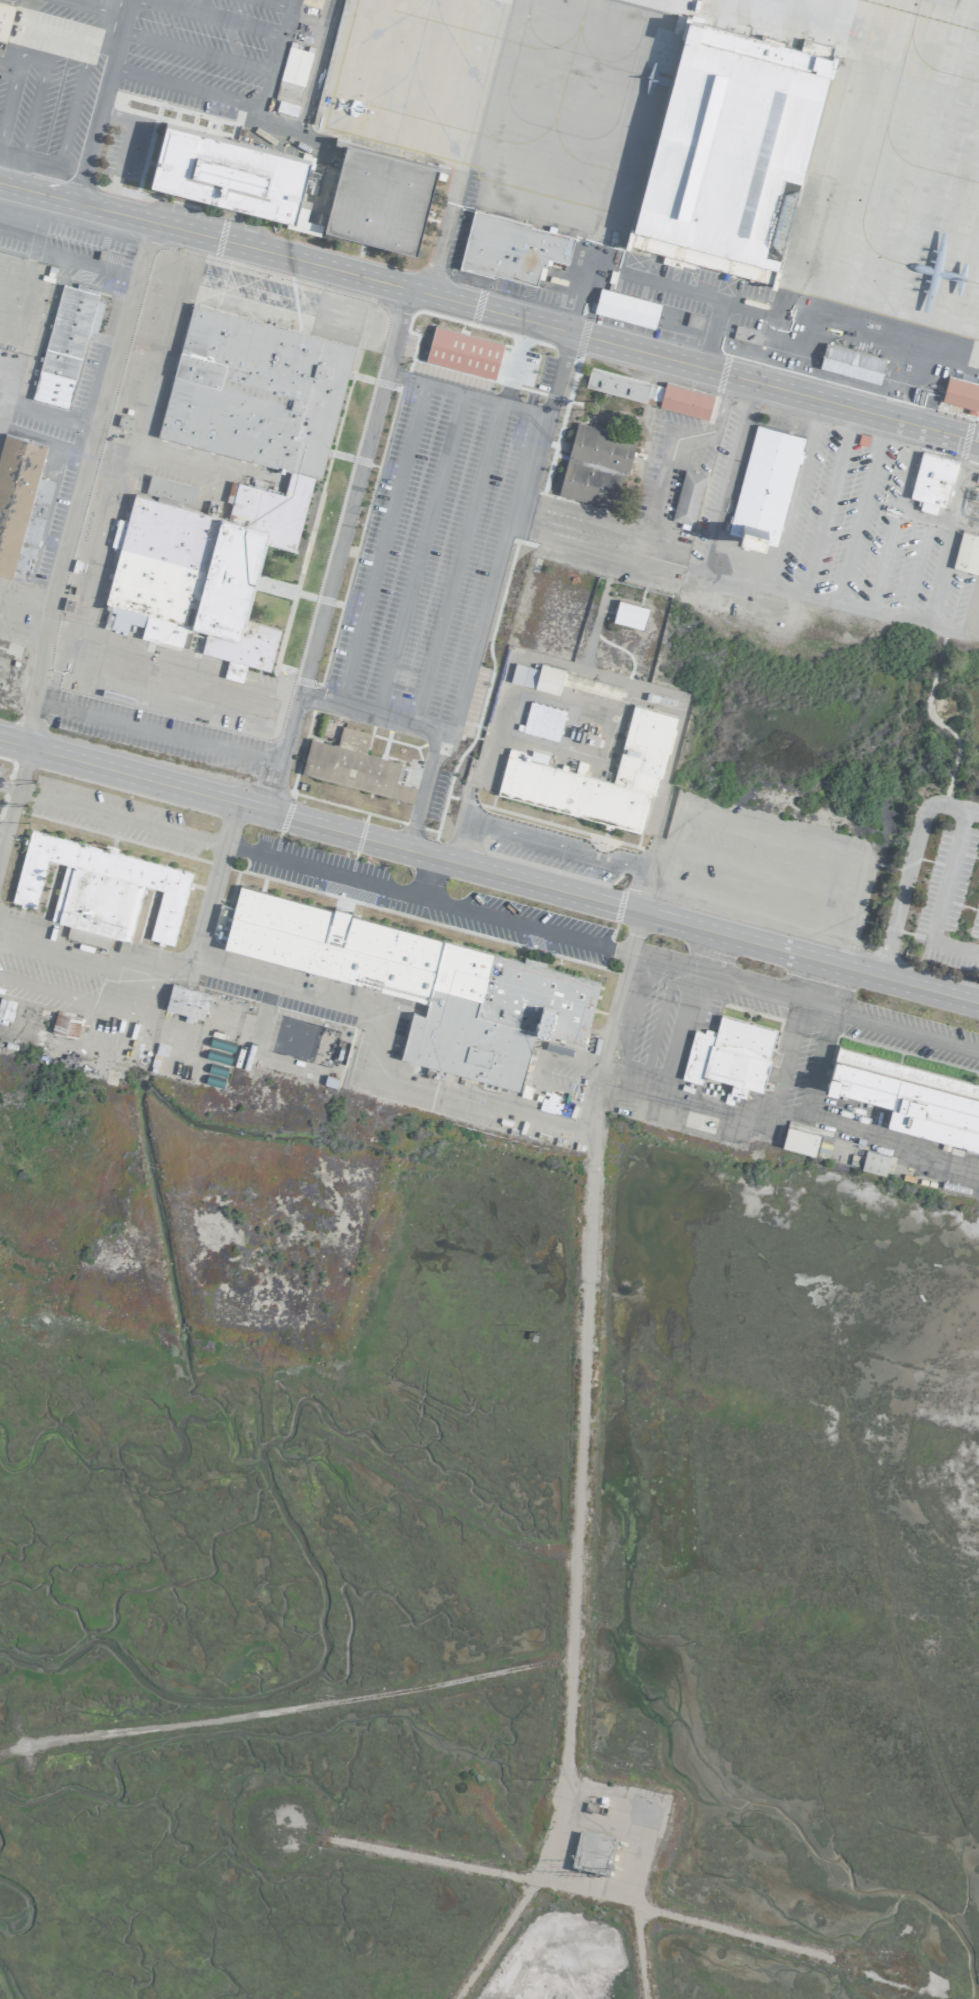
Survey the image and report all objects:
road: (272, 4)
road: (191, 5)
road: (93, 8)
building: (4, 17)
road: (235, 23)
road: (68, 38)
road: (274, 53)
road: (41, 72)
road: (264, 85)
road: (99, 100)
road: (68, 121)
building: (729, 149)
airport apron: (555, 172)
building: (231, 174)
building: (380, 196)
road: (32, 220)
building: (511, 247)
road: (88, 263)
road: (649, 278)
building: (625, 307)
road: (489, 312)
building: (694, 319)
building: (746, 334)
building: (64, 343)
building: (462, 351)
building: (850, 363)
road: (7, 376)
building: (649, 392)
road: (464, 394)
building: (961, 394)
road: (721, 403)
road: (46, 412)
building: (595, 466)
road: (667, 467)
building: (932, 481)
road: (80, 482)
building: (764, 484)
building: (169, 489)
building: (270, 494)
building: (686, 498)
building: (20, 503)
road: (580, 512)
road: (381, 543)
road: (576, 545)
road: (660, 546)
road: (338, 551)
building: (966, 552)
road: (417, 553)
road: (455, 564)
road: (489, 592)
road: (25, 597)
building: (629, 614)
road: (21, 634)
building: (536, 677)
building: (590, 686)
road: (372, 713)
building: (542, 720)
road: (156, 732)
building: (352, 764)
building: (538, 772)
road: (11, 800)
road: (744, 821)
road: (3, 824)
road: (461, 836)
road: (571, 850)
road: (907, 863)
road: (488, 872)
road: (334, 874)
road: (422, 876)
road: (656, 878)
building: (99, 888)
road: (850, 903)
road: (178, 971)
building: (424, 983)
airport: (489, 999)
building: (184, 1000)
road: (826, 1005)
building: (64, 1023)
road: (906, 1033)
building: (729, 1054)
road: (819, 1065)
building: (912, 1097)
road: (791, 1115)
building: (798, 1138)
building: (873, 1161)
road: (587, 1297)
road: (292, 1707)
building: (592, 1853)
road: (436, 1860)
road: (730, 1930)
road: (493, 1939)
road: (638, 1953)

